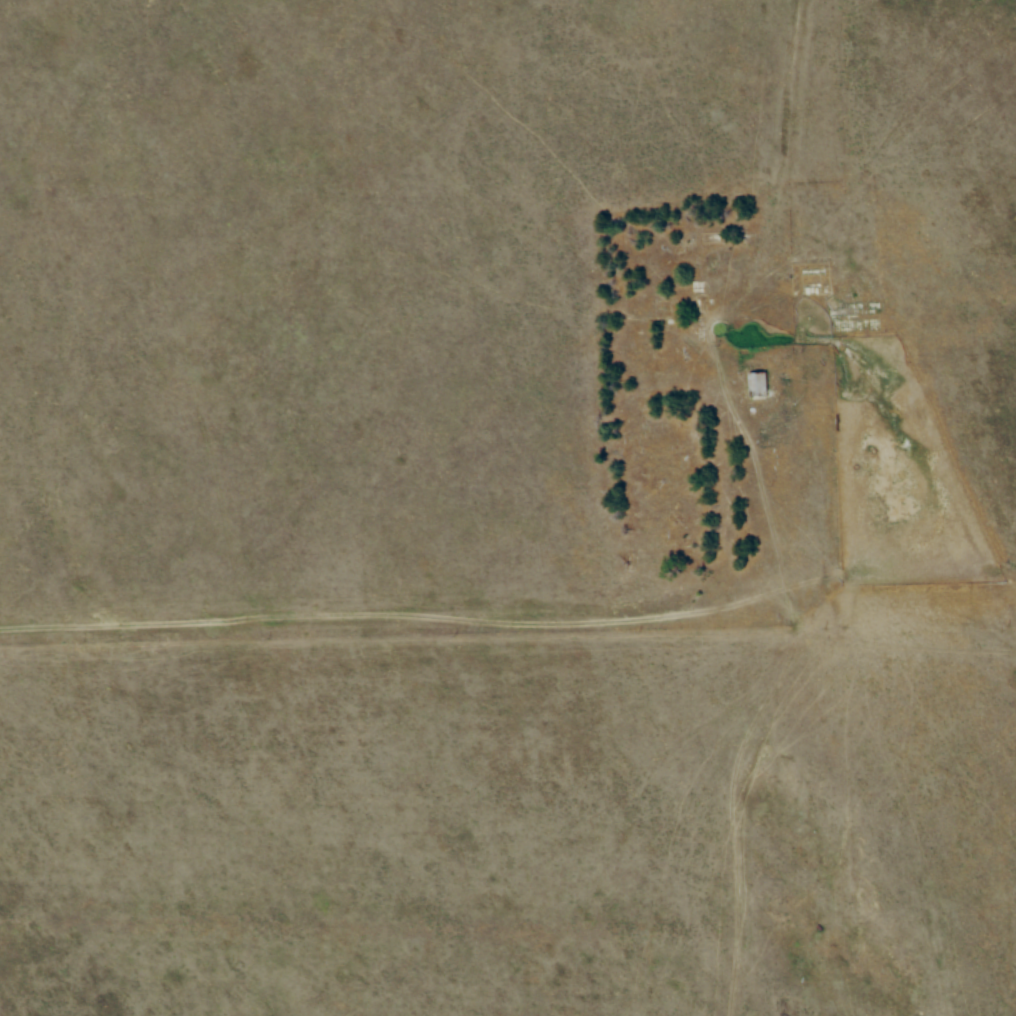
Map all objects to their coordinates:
building: (756, 386)

